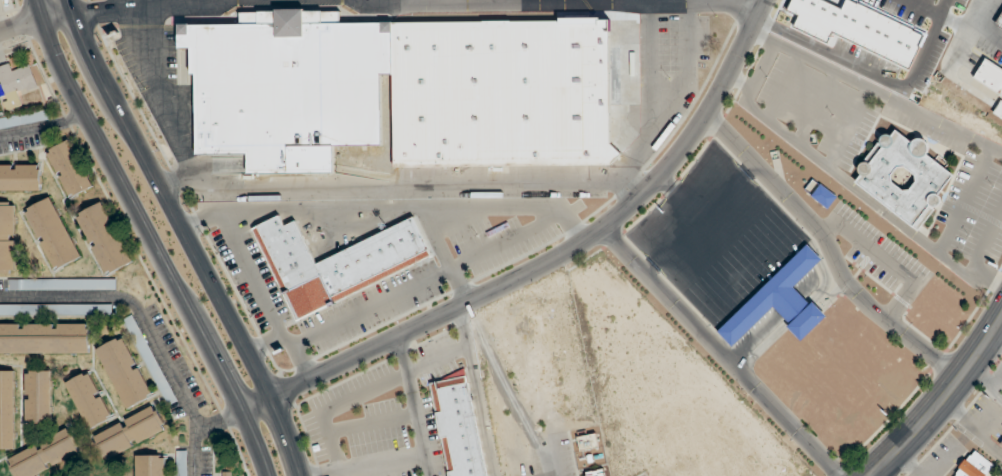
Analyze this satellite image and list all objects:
road: (412, 2)
road: (418, 3)
road: (57, 14)
building: (999, 23)
road: (21, 24)
gas station: (986, 71)
building: (990, 77)
road: (740, 81)
building: (287, 83)
building: (16, 85)
building: (501, 88)
road: (877, 90)
building: (998, 110)
building: (24, 119)
road: (43, 124)
road: (713, 151)
building: (69, 169)
building: (20, 178)
building: (904, 178)
road: (845, 180)
building: (823, 196)
road: (650, 223)
building: (52, 234)
road: (187, 237)
building: (7, 238)
building: (104, 238)
road: (150, 238)
road: (989, 241)
road: (831, 251)
road: (552, 262)
building: (336, 263)
building: (61, 285)
building: (779, 302)
building: (9, 310)
building: (77, 310)
road: (147, 323)
building: (44, 339)
building: (140, 344)
road: (719, 353)
building: (124, 373)
road: (385, 381)
building: (38, 397)
building: (88, 401)
road: (941, 401)
building: (7, 410)
road: (482, 410)
building: (459, 427)
building: (129, 433)
building: (587, 442)
building: (1001, 445)
road: (196, 450)
road: (422, 453)
building: (44, 455)
road: (908, 462)
building: (182, 463)
road: (427, 464)
building: (150, 465)
building: (974, 466)
building: (596, 473)

